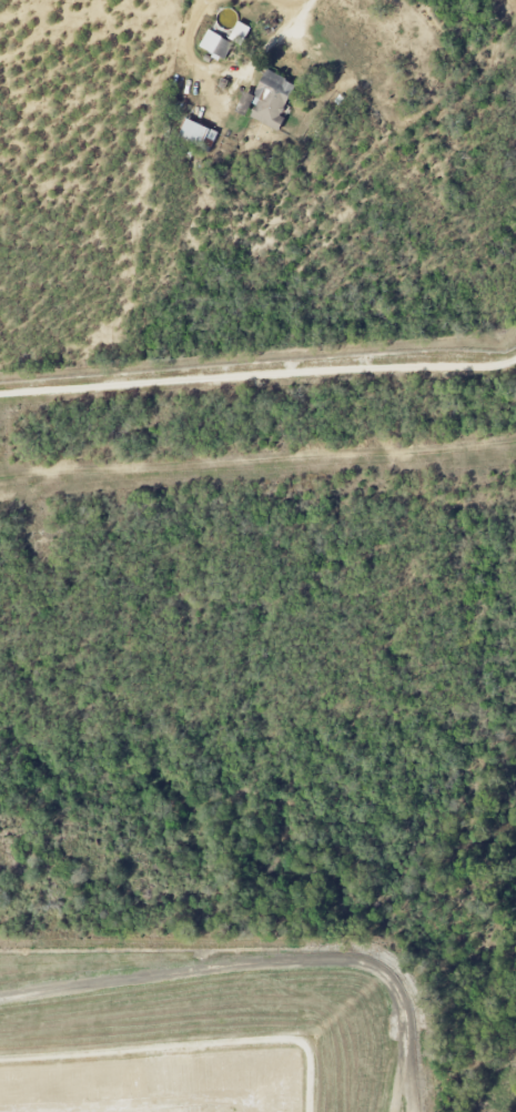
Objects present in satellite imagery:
road: (300, 14)
building: (217, 44)
building: (270, 100)
building: (199, 133)
road: (257, 376)
road: (257, 457)
road: (262, 967)

